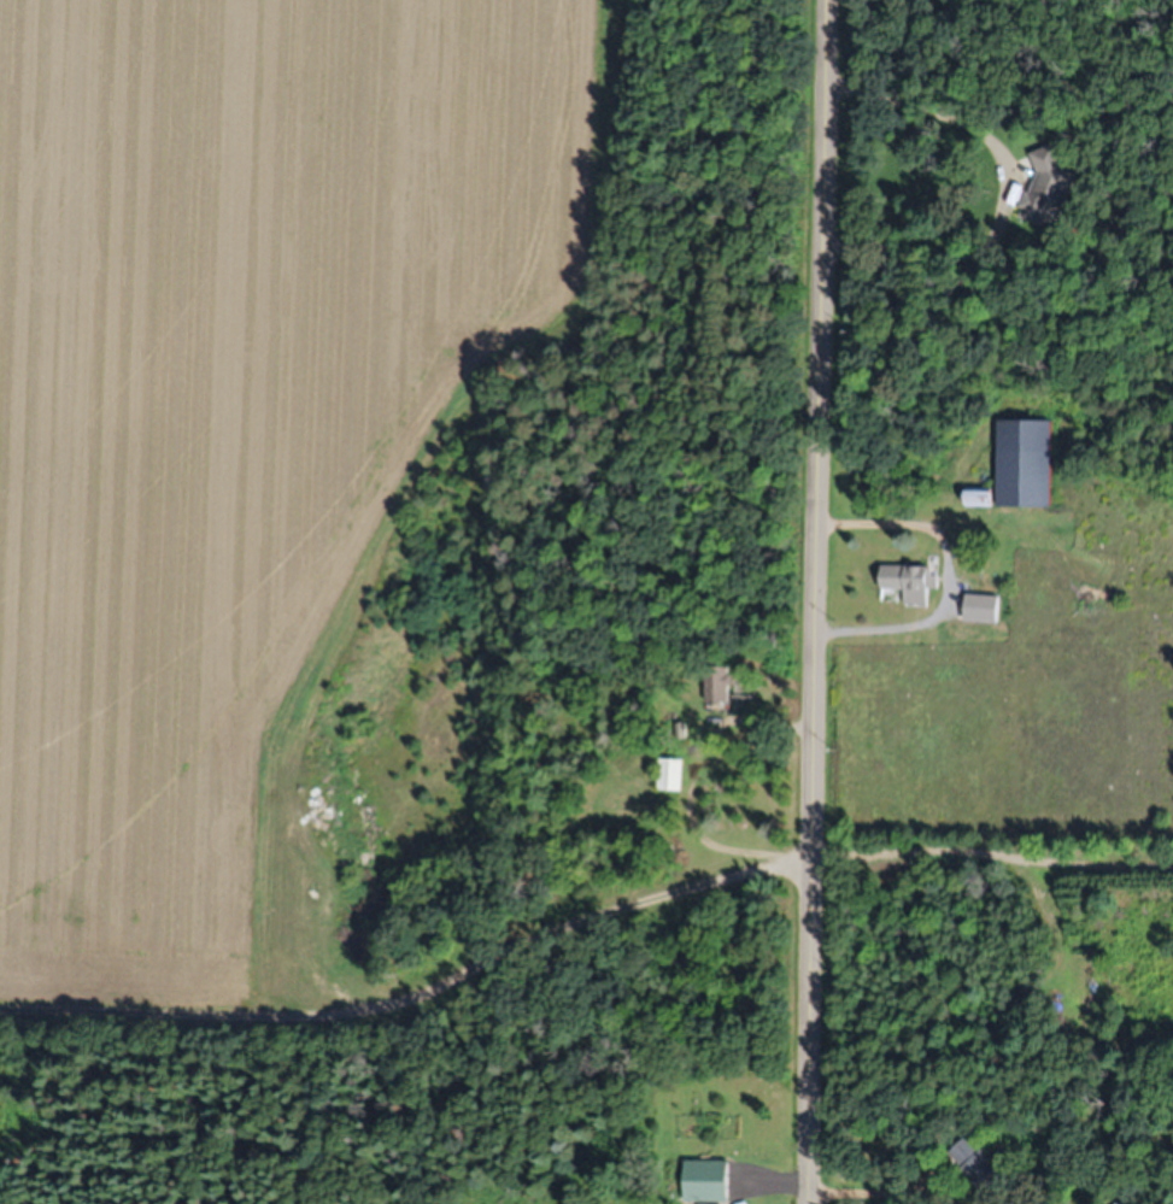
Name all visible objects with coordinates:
building: (1043, 186)
crop: (245, 444)
building: (1026, 463)
building: (980, 498)
building: (910, 582)
road: (819, 601)
building: (984, 609)
building: (717, 691)
building: (669, 775)
building: (976, 1165)

